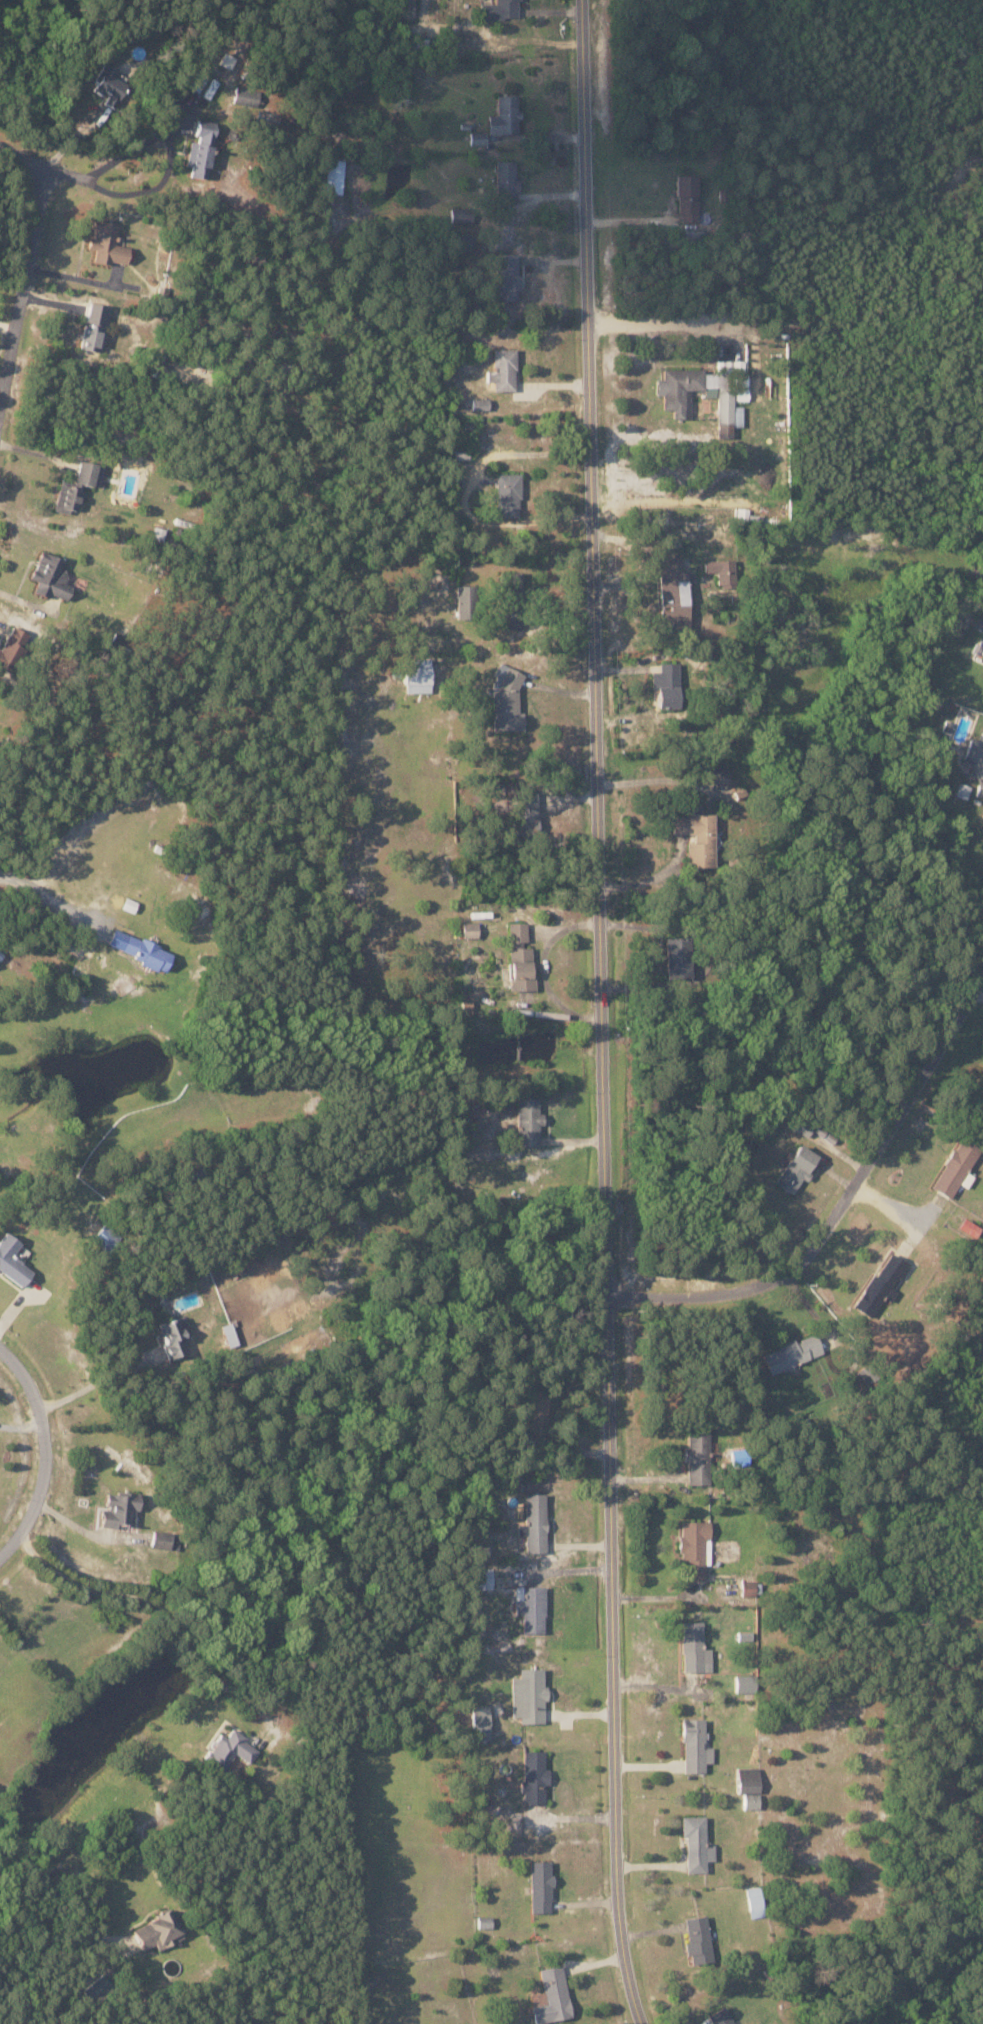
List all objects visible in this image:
building: (499, 9)
building: (199, 80)
building: (108, 82)
building: (506, 115)
building: (478, 137)
building: (202, 148)
road: (43, 170)
building: (335, 175)
building: (507, 179)
building: (462, 213)
building: (108, 242)
building: (507, 276)
road: (22, 296)
building: (94, 336)
building: (504, 369)
building: (708, 391)
building: (481, 403)
building: (461, 454)
building: (78, 486)
building: (509, 494)
building: (723, 571)
building: (51, 576)
building: (675, 593)
building: (465, 601)
building: (510, 617)
building: (12, 646)
building: (419, 676)
building: (668, 684)
building: (507, 699)
building: (975, 757)
building: (720, 774)
building: (963, 790)
building: (527, 813)
building: (697, 837)
road: (35, 890)
building: (468, 929)
building: (140, 949)
building: (521, 958)
building: (679, 958)
road: (602, 1013)
building: (529, 1121)
building: (798, 1168)
building: (958, 1168)
road: (843, 1188)
road: (890, 1209)
building: (13, 1261)
building: (882, 1284)
building: (175, 1338)
building: (793, 1353)
road: (94, 1384)
road: (43, 1447)
building: (698, 1457)
building: (121, 1510)
building: (535, 1523)
building: (161, 1540)
building: (695, 1547)
building: (483, 1579)
building: (748, 1588)
road: (157, 1607)
building: (533, 1610)
building: (745, 1635)
building: (695, 1647)
building: (746, 1682)
building: (529, 1694)
building: (482, 1721)
building: (696, 1745)
building: (231, 1748)
building: (535, 1776)
building: (749, 1779)
building: (752, 1800)
building: (697, 1843)
building: (541, 1885)
building: (756, 1901)
building: (485, 1921)
building: (159, 1930)
building: (699, 1938)
road: (46, 1946)
building: (98, 1988)
building: (554, 1995)
building: (722, 2016)

